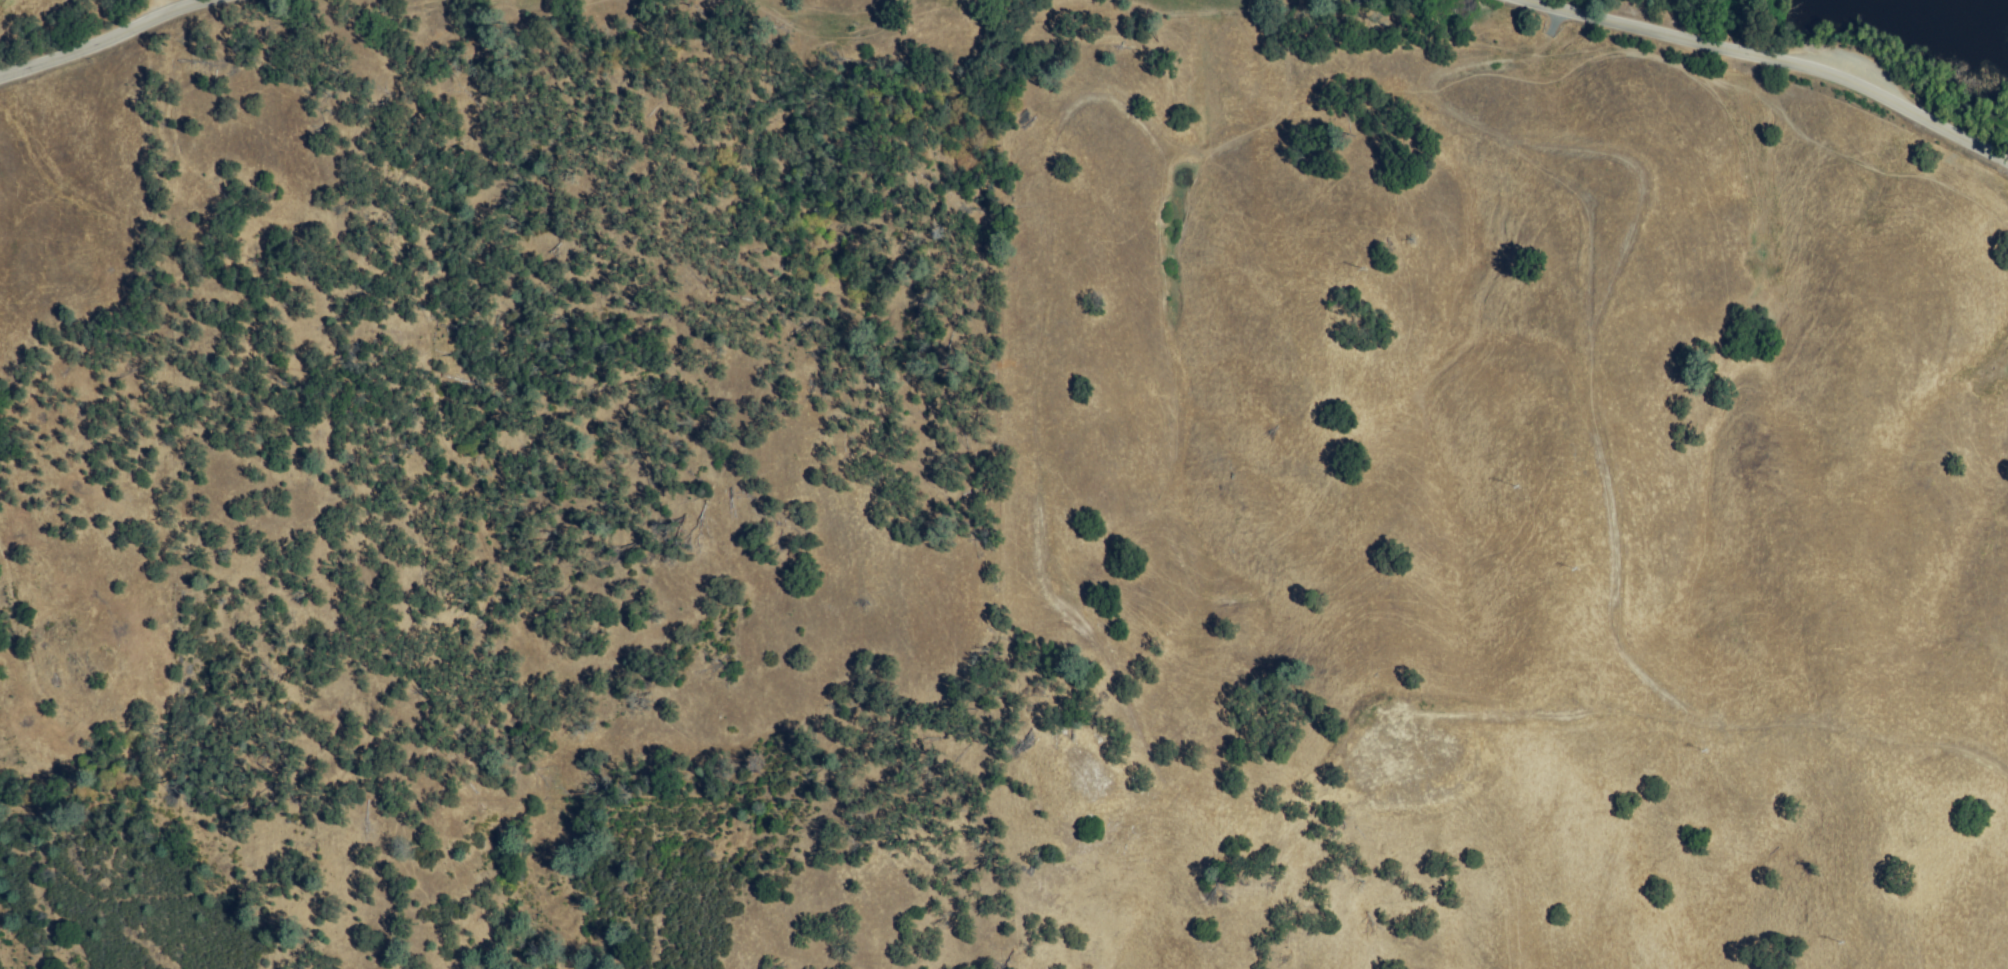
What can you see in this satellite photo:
road: (113, 40)
road: (1772, 60)

